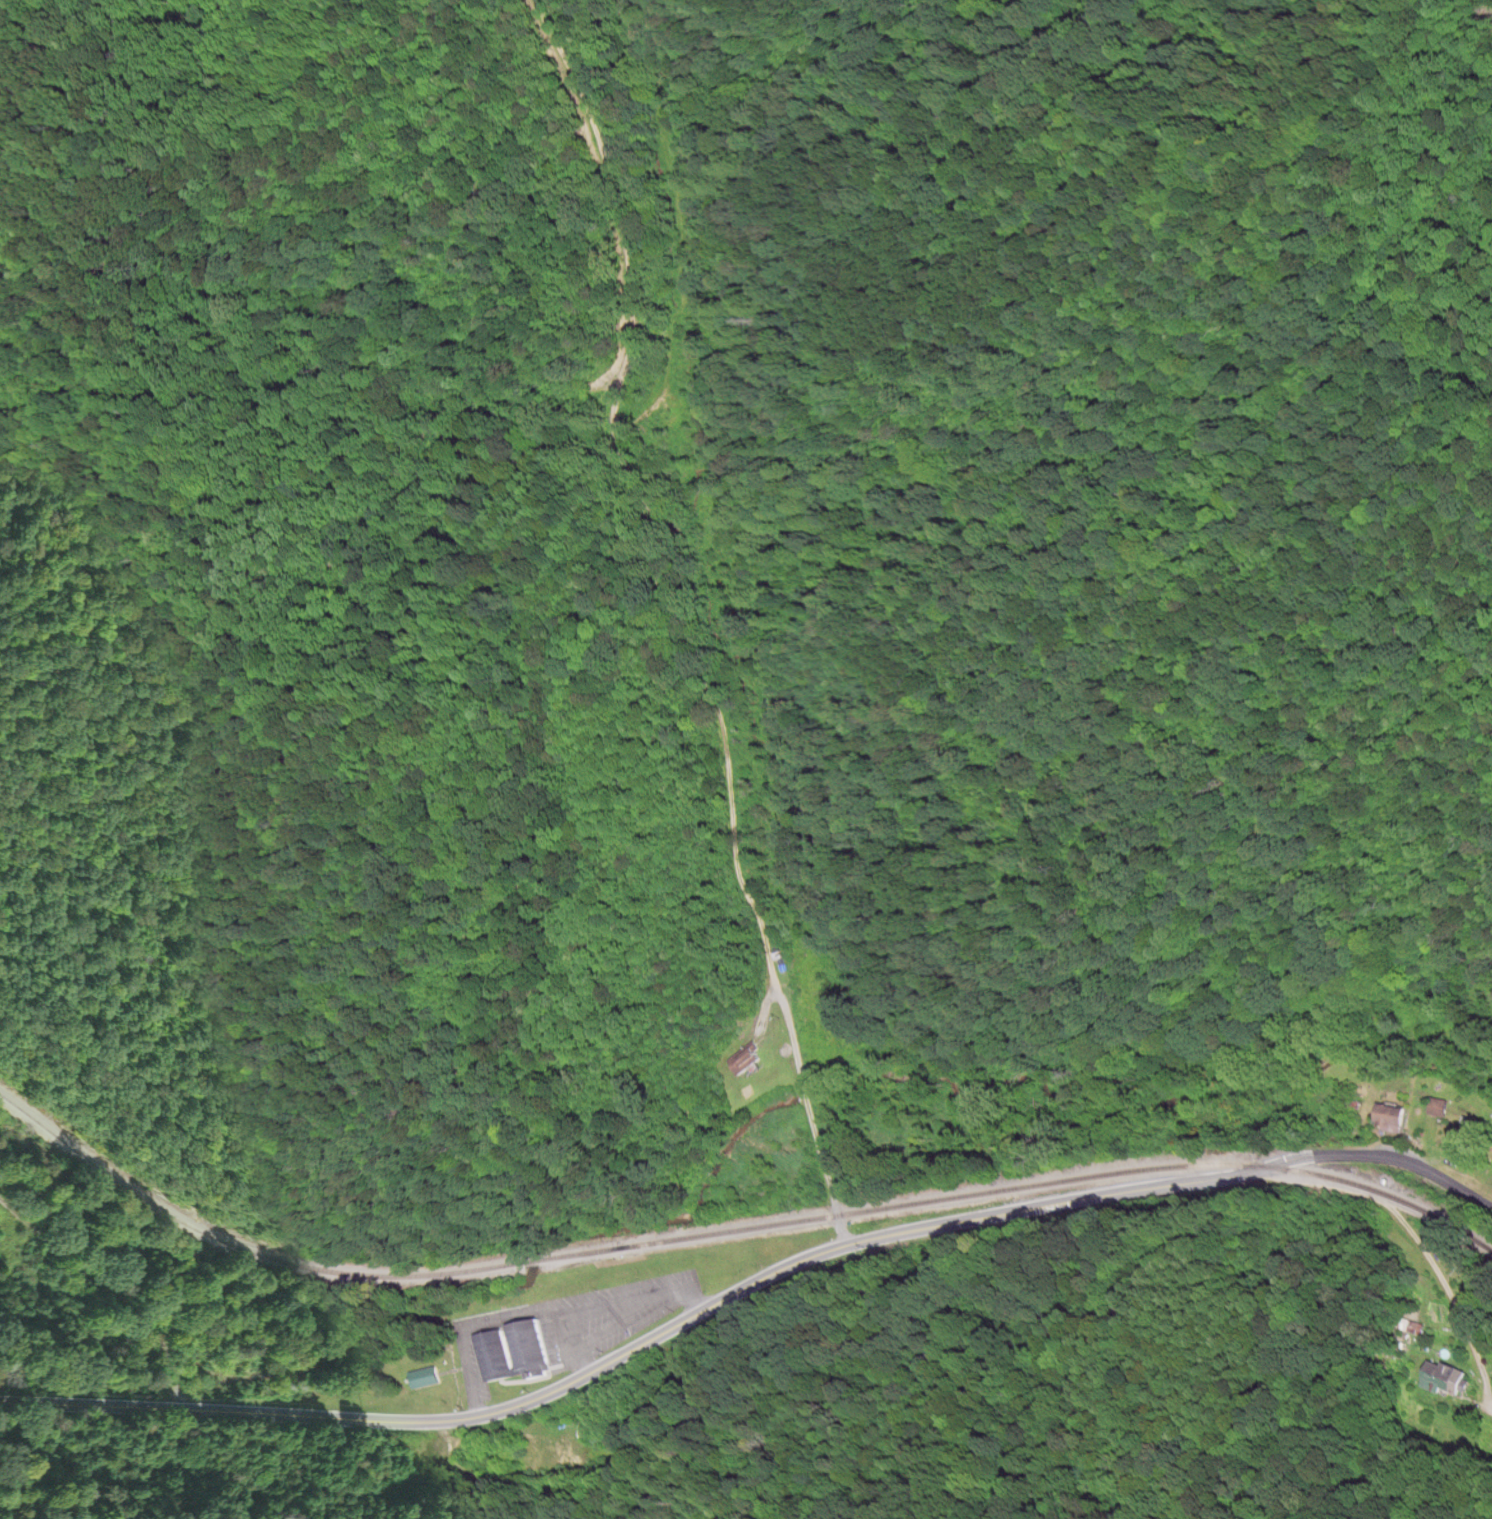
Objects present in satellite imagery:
road: (678, 618)
building: (747, 1059)
building: (1440, 1108)
building: (1393, 1119)
road: (1375, 1156)
railway: (729, 1231)
road: (1406, 1239)
road: (634, 1346)
building: (517, 1353)
building: (427, 1378)
building: (1451, 1382)

